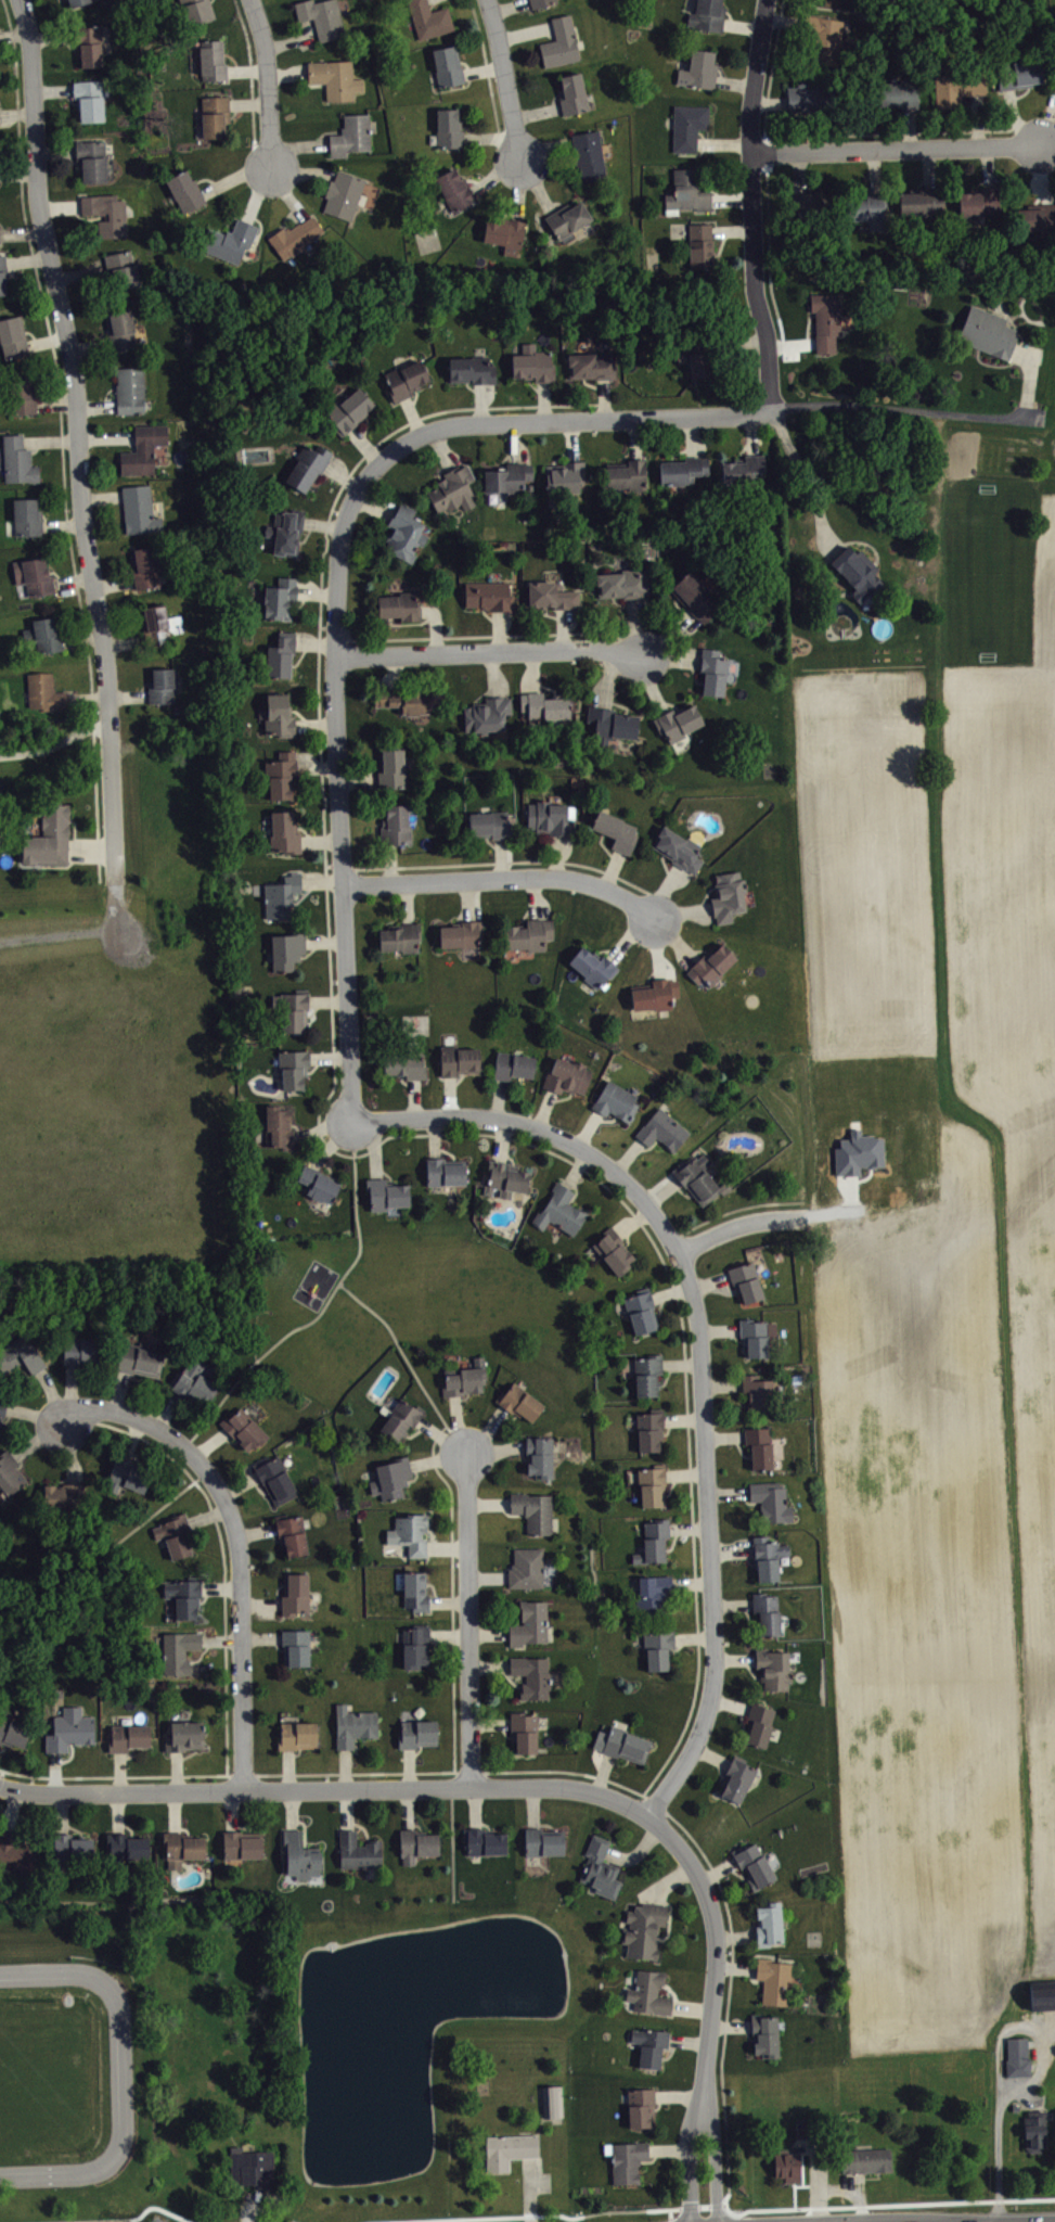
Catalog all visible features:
building: (76, 2)
building: (540, 3)
building: (196, 12)
building: (708, 15)
building: (321, 18)
building: (428, 21)
building: (825, 39)
building: (561, 44)
building: (87, 46)
building: (0, 50)
building: (210, 62)
building: (448, 68)
building: (698, 72)
building: (1018, 76)
building: (333, 80)
road: (267, 82)
road: (507, 84)
road: (252, 85)
road: (490, 87)
building: (957, 89)
building: (571, 95)
building: (899, 95)
building: (89, 99)
building: (813, 100)
building: (213, 117)
building: (689, 127)
building: (449, 131)
road: (904, 131)
building: (351, 138)
road: (896, 148)
building: (589, 157)
building: (91, 158)
building: (0, 180)
road: (768, 182)
building: (454, 191)
building: (184, 193)
building: (687, 193)
building: (343, 196)
building: (922, 204)
building: (979, 204)
road: (752, 206)
building: (106, 212)
building: (867, 212)
building: (807, 215)
building: (1037, 220)
building: (567, 221)
building: (505, 235)
building: (1, 239)
building: (294, 239)
building: (230, 242)
building: (702, 246)
building: (121, 270)
building: (2, 274)
building: (826, 320)
building: (120, 330)
building: (987, 331)
building: (12, 339)
road: (55, 356)
building: (700, 358)
building: (532, 362)
building: (591, 362)
building: (471, 369)
road: (1030, 374)
building: (404, 379)
building: (130, 391)
building: (22, 396)
road: (604, 397)
road: (906, 408)
building: (349, 409)
road: (568, 420)
road: (693, 435)
road: (635, 437)
road: (570, 438)
building: (143, 449)
building: (18, 459)
road: (78, 461)
building: (308, 464)
building: (682, 468)
building: (744, 469)
building: (628, 473)
building: (509, 478)
building: (563, 478)
road: (809, 480)
building: (453, 489)
building: (139, 509)
building: (26, 515)
building: (286, 529)
building: (403, 535)
building: (146, 566)
building: (855, 567)
building: (36, 576)
building: (623, 584)
building: (279, 597)
building: (488, 597)
building: (551, 597)
building: (694, 597)
building: (399, 606)
building: (159, 625)
road: (480, 634)
building: (43, 635)
road: (489, 651)
building: (281, 654)
building: (712, 673)
building: (162, 685)
road: (319, 685)
building: (44, 691)
building: (402, 701)
building: (545, 708)
building: (486, 714)
building: (279, 715)
building: (678, 721)
building: (610, 726)
road: (55, 742)
building: (393, 769)
building: (282, 774)
road: (338, 788)
building: (548, 817)
building: (396, 823)
building: (489, 823)
building: (615, 829)
building: (284, 831)
building: (49, 837)
building: (680, 848)
road: (503, 860)
road: (504, 877)
building: (282, 894)
building: (726, 895)
building: (460, 934)
building: (529, 934)
road: (59, 936)
building: (400, 936)
building: (286, 949)
building: (592, 965)
building: (711, 967)
building: (653, 994)
building: (293, 1009)
building: (458, 1059)
building: (513, 1064)
building: (404, 1065)
building: (293, 1067)
building: (568, 1076)
building: (615, 1101)
building: (278, 1126)
building: (661, 1131)
building: (445, 1171)
building: (506, 1177)
building: (697, 1178)
building: (319, 1183)
building: (386, 1192)
road: (734, 1209)
building: (559, 1210)
road: (738, 1225)
building: (613, 1249)
building: (746, 1281)
park: (393, 1302)
crop: (934, 1302)
road: (322, 1307)
building: (641, 1310)
building: (754, 1337)
road: (685, 1349)
road: (700, 1350)
building: (81, 1351)
building: (20, 1355)
building: (138, 1359)
road: (409, 1362)
building: (647, 1374)
building: (464, 1378)
building: (193, 1387)
building: (757, 1392)
building: (519, 1401)
building: (2, 1408)
building: (401, 1417)
building: (649, 1428)
building: (243, 1430)
building: (759, 1447)
building: (540, 1455)
building: (9, 1474)
building: (390, 1477)
building: (127, 1478)
building: (275, 1478)
building: (652, 1484)
building: (60, 1499)
building: (770, 1501)
building: (533, 1510)
building: (410, 1532)
building: (292, 1533)
building: (173, 1536)
road: (237, 1541)
building: (653, 1541)
road: (111, 1546)
road: (223, 1553)
building: (767, 1556)
building: (526, 1567)
building: (415, 1591)
road: (452, 1593)
building: (653, 1593)
building: (295, 1595)
building: (184, 1598)
building: (765, 1612)
road: (467, 1620)
building: (530, 1623)
building: (415, 1645)
building: (296, 1646)
building: (657, 1647)
building: (178, 1650)
building: (773, 1668)
building: (531, 1674)
building: (758, 1723)
building: (353, 1724)
building: (68, 1728)
building: (524, 1729)
building: (12, 1733)
building: (415, 1733)
building: (184, 1734)
building: (298, 1734)
building: (129, 1736)
building: (621, 1744)
road: (544, 1770)
road: (1, 1772)
road: (0, 1775)
building: (736, 1777)
road: (326, 1788)
building: (485, 1840)
building: (542, 1841)
building: (242, 1844)
building: (416, 1844)
building: (126, 1846)
building: (73, 1848)
building: (181, 1848)
building: (359, 1850)
building: (299, 1855)
building: (16, 1856)
building: (752, 1863)
building: (599, 1866)
building: (769, 1924)
building: (644, 1929)
road: (717, 1940)
building: (773, 1980)
building: (647, 1993)
building: (1042, 1993)
road: (1031, 2026)
building: (765, 2034)
building: (648, 2045)
building: (1017, 2057)
road: (120, 2072)
building: (552, 2100)
building: (639, 2107)
building: (1015, 2107)
building: (803, 2127)
building: (1033, 2130)
building: (510, 2148)
road: (689, 2153)
road: (715, 2154)
building: (866, 2159)
building: (628, 2160)
building: (786, 2164)
building: (252, 2166)
road: (999, 2166)
road: (818, 2180)
road: (529, 2189)
road: (857, 2196)
street lamp: (730, 2199)
road: (886, 2202)
road: (720, 2204)
road: (703, 2205)
road: (249, 2206)
road: (685, 2206)
road: (629, 2209)
road: (670, 2211)
road: (116, 2218)
road: (474, 2218)
road: (670, 2219)
road: (1040, 2221)

